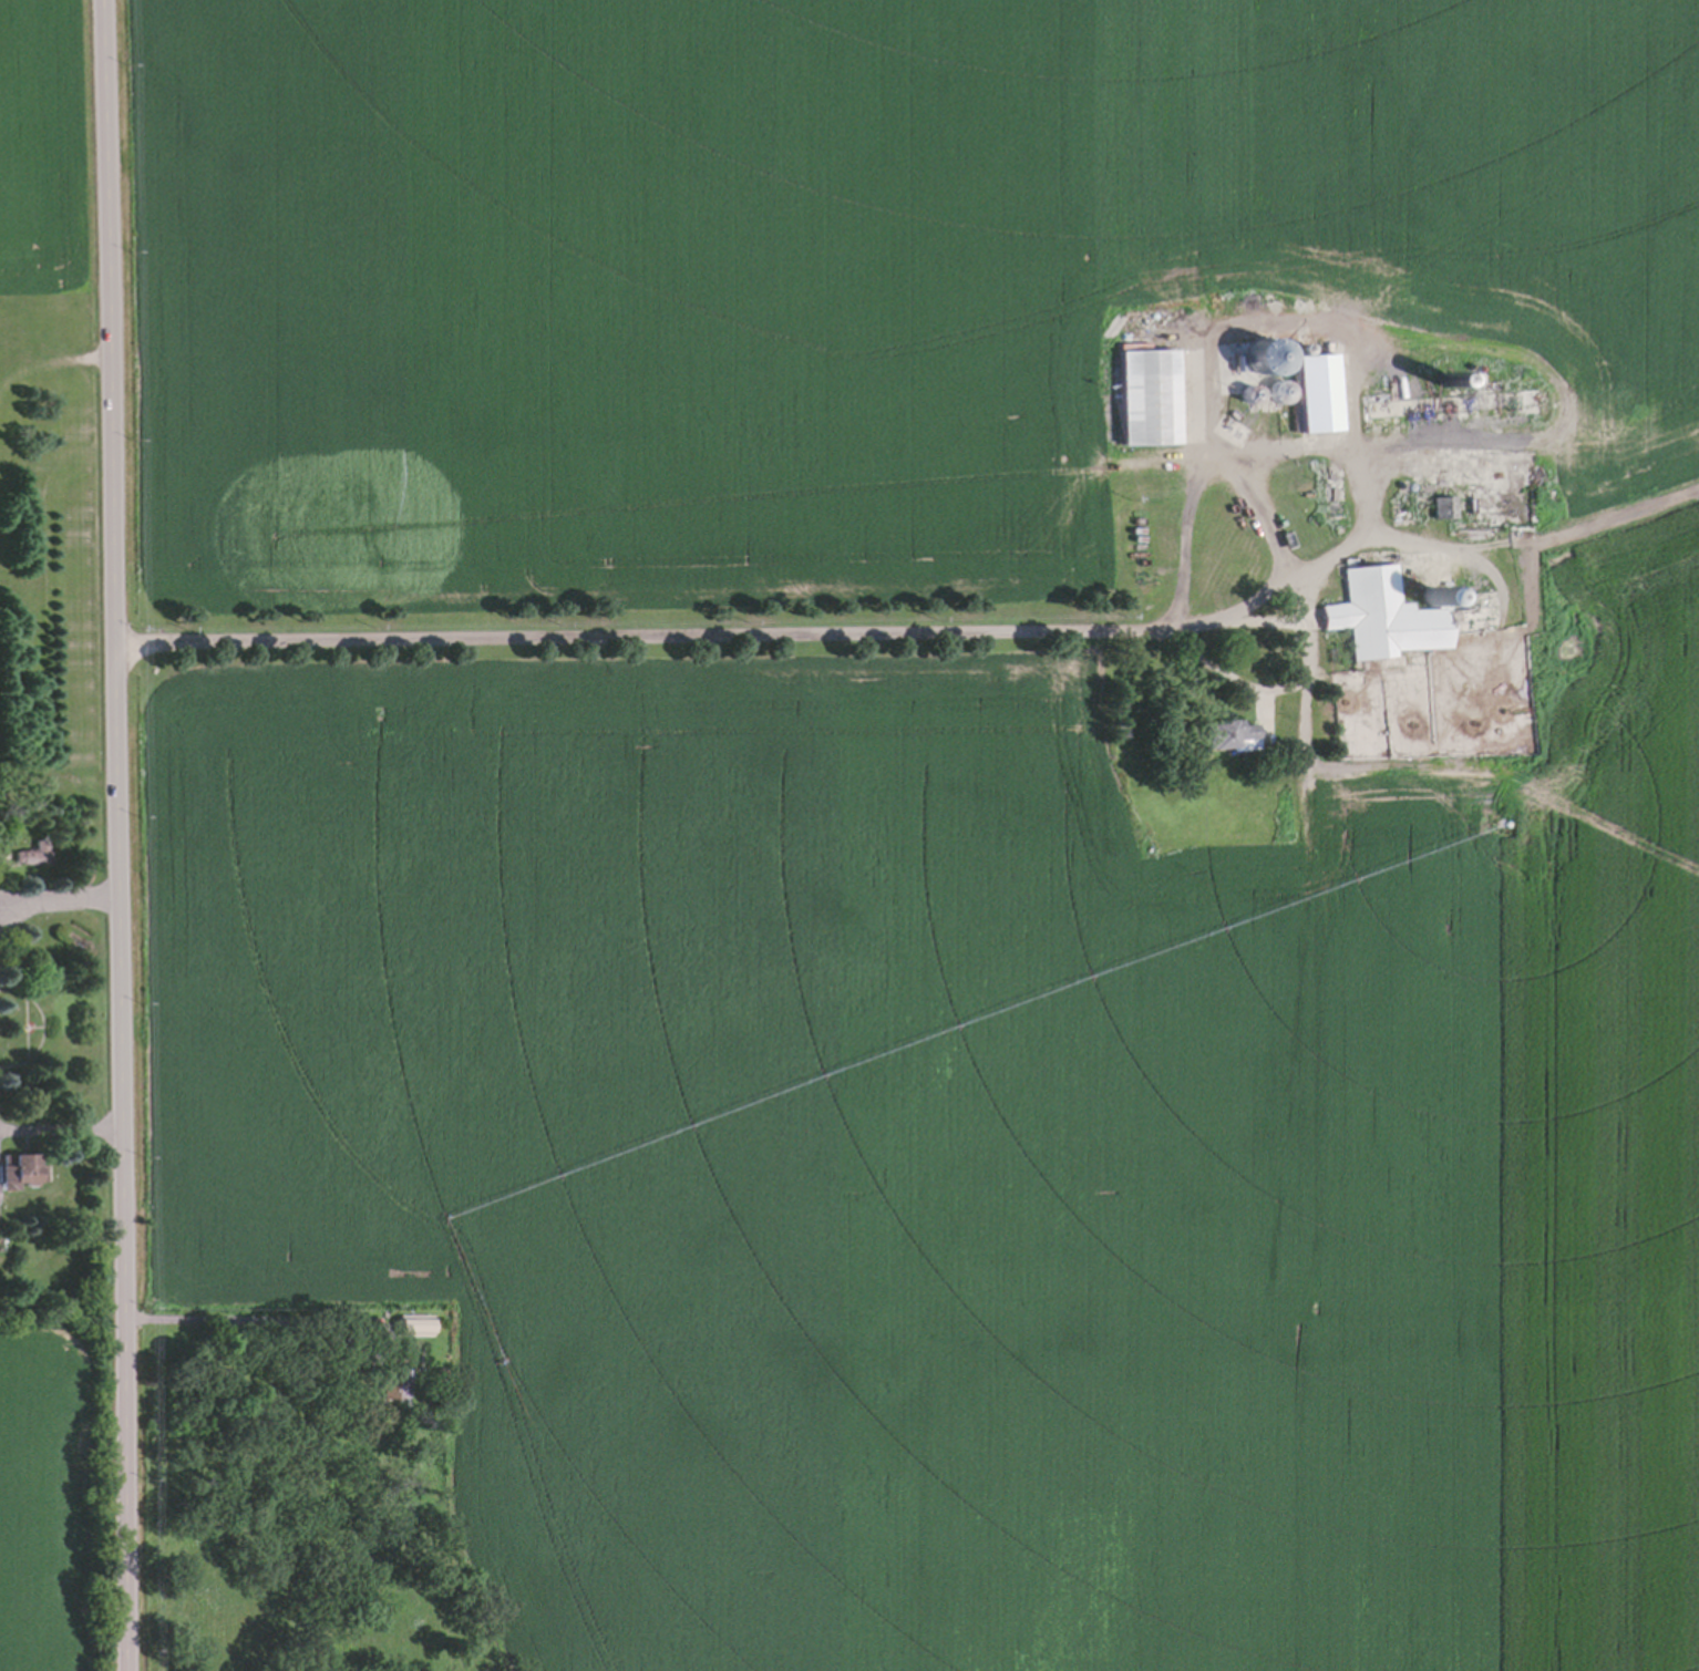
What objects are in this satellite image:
road: (1266, 322)
building: (1300, 343)
building: (1263, 354)
building: (1473, 369)
building: (1439, 383)
building: (1276, 391)
building: (1246, 393)
building: (1314, 393)
building: (1145, 395)
building: (1547, 400)
building: (1449, 403)
road: (1435, 444)
road: (1359, 447)
building: (1314, 470)
building: (1403, 481)
building: (1403, 487)
building: (1330, 493)
building: (1441, 505)
road: (1183, 536)
road: (1435, 548)
building: (1425, 594)
building: (1396, 615)
road: (814, 635)
building: (1225, 735)
road: (107, 835)
building: (30, 853)
road: (54, 898)
road: (55, 1128)
building: (19, 1168)
road: (241, 1320)
building: (410, 1324)
building: (441, 1373)
building: (387, 1378)

